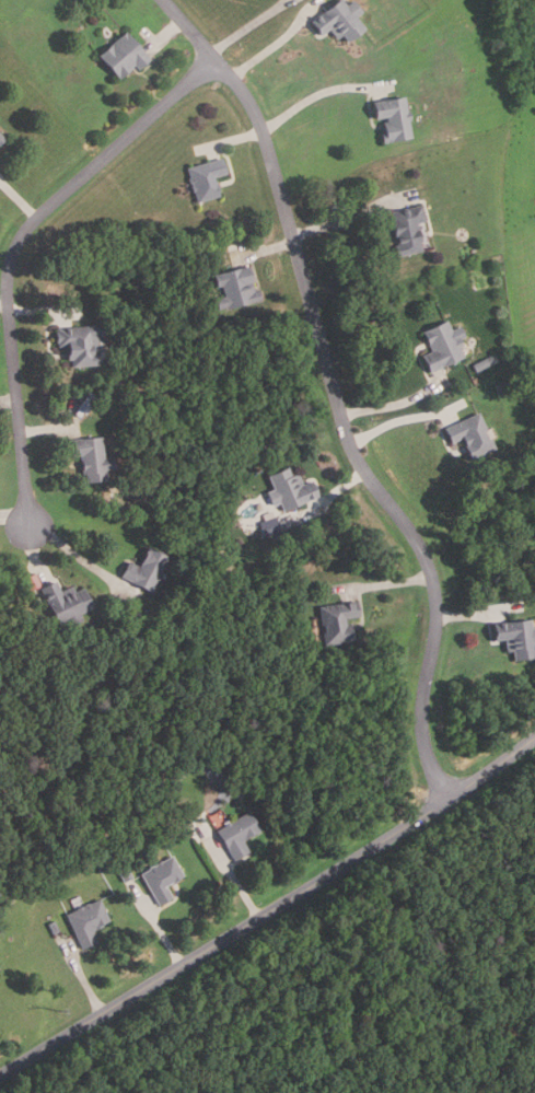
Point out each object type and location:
building: (337, 20)
road: (247, 26)
road: (165, 35)
road: (278, 40)
building: (120, 55)
road: (319, 94)
building: (391, 118)
building: (1, 140)
road: (231, 141)
building: (203, 177)
road: (19, 200)
road: (354, 216)
building: (406, 230)
road: (13, 248)
road: (264, 249)
building: (233, 288)
road: (5, 303)
road: (44, 311)
building: (78, 344)
building: (441, 345)
building: (484, 361)
building: (502, 386)
road: (337, 394)
road: (9, 399)
building: (85, 402)
road: (396, 403)
road: (403, 417)
road: (48, 428)
building: (468, 437)
building: (89, 456)
building: (287, 488)
road: (327, 501)
road: (14, 514)
building: (268, 526)
road: (33, 549)
road: (80, 557)
building: (143, 569)
building: (31, 581)
road: (385, 583)
building: (65, 601)
road: (475, 614)
building: (335, 621)
building: (514, 637)
building: (216, 737)
building: (235, 834)
road: (229, 871)
building: (123, 874)
building: (161, 879)
road: (269, 912)
building: (85, 921)
road: (155, 925)
building: (53, 927)
road: (81, 977)

